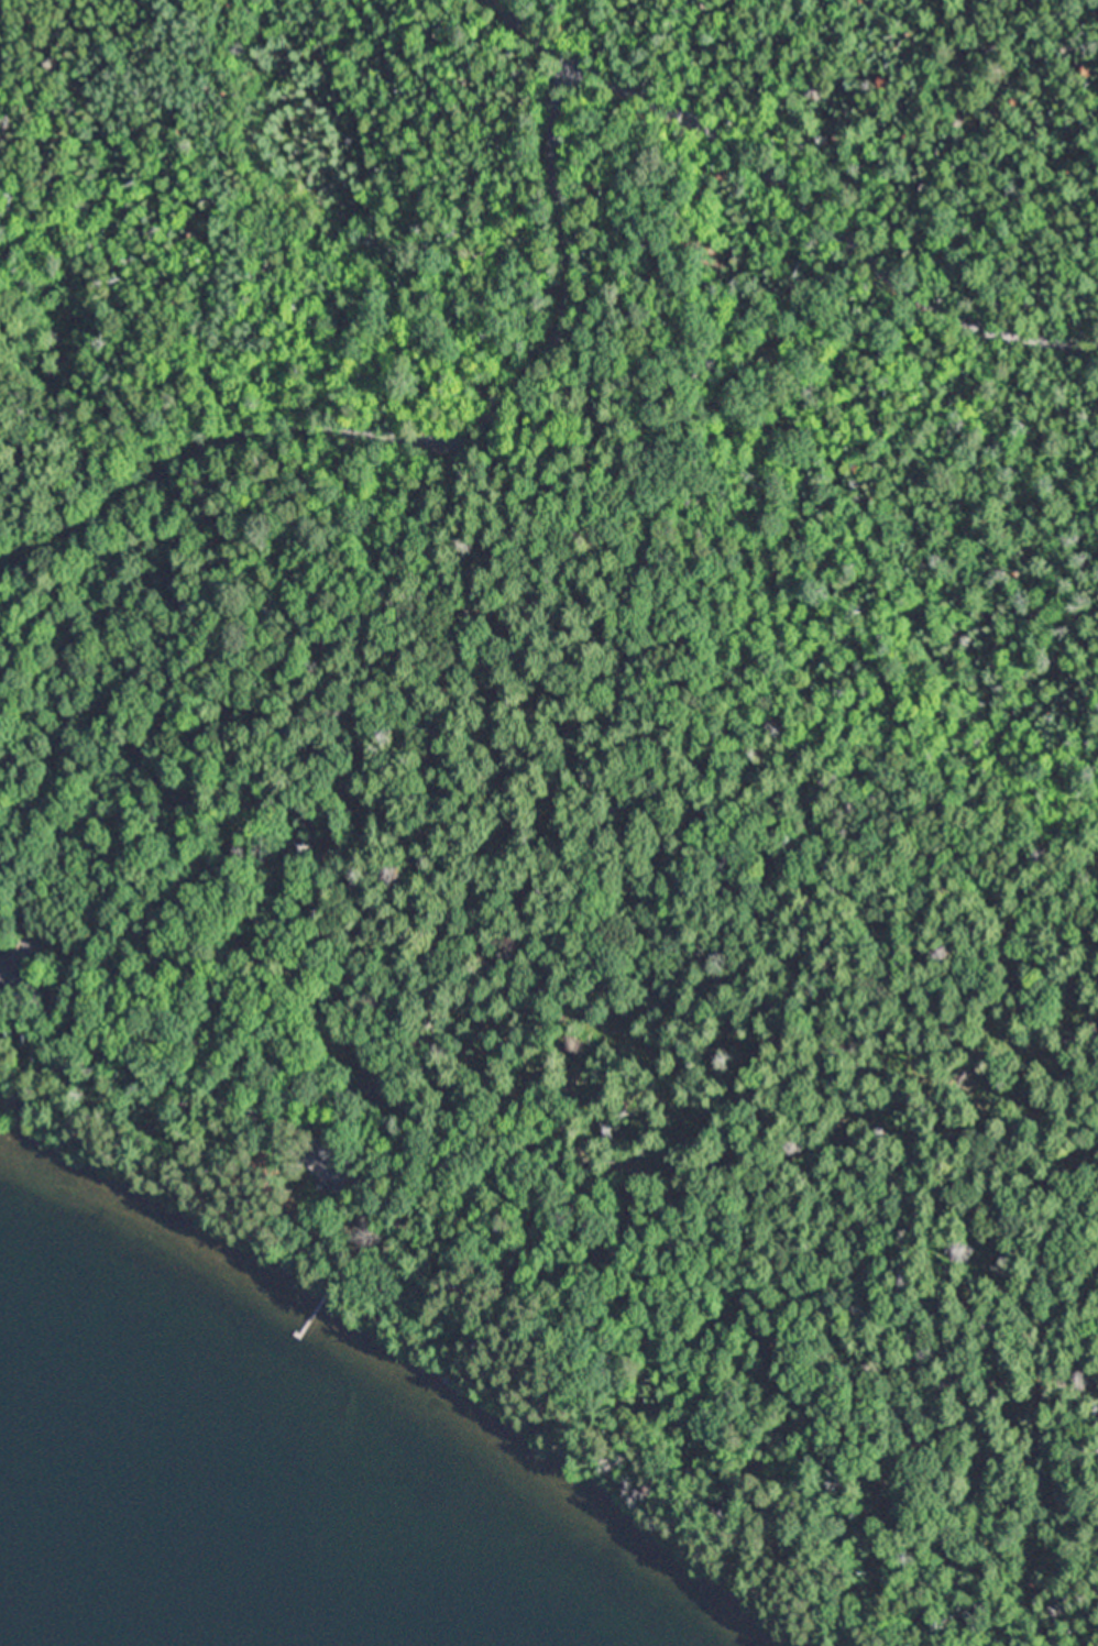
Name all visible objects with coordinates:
road: (790, 189)
road: (430, 438)
building: (63, 1000)
building: (3, 1027)
building: (30, 1111)
building: (333, 1170)

